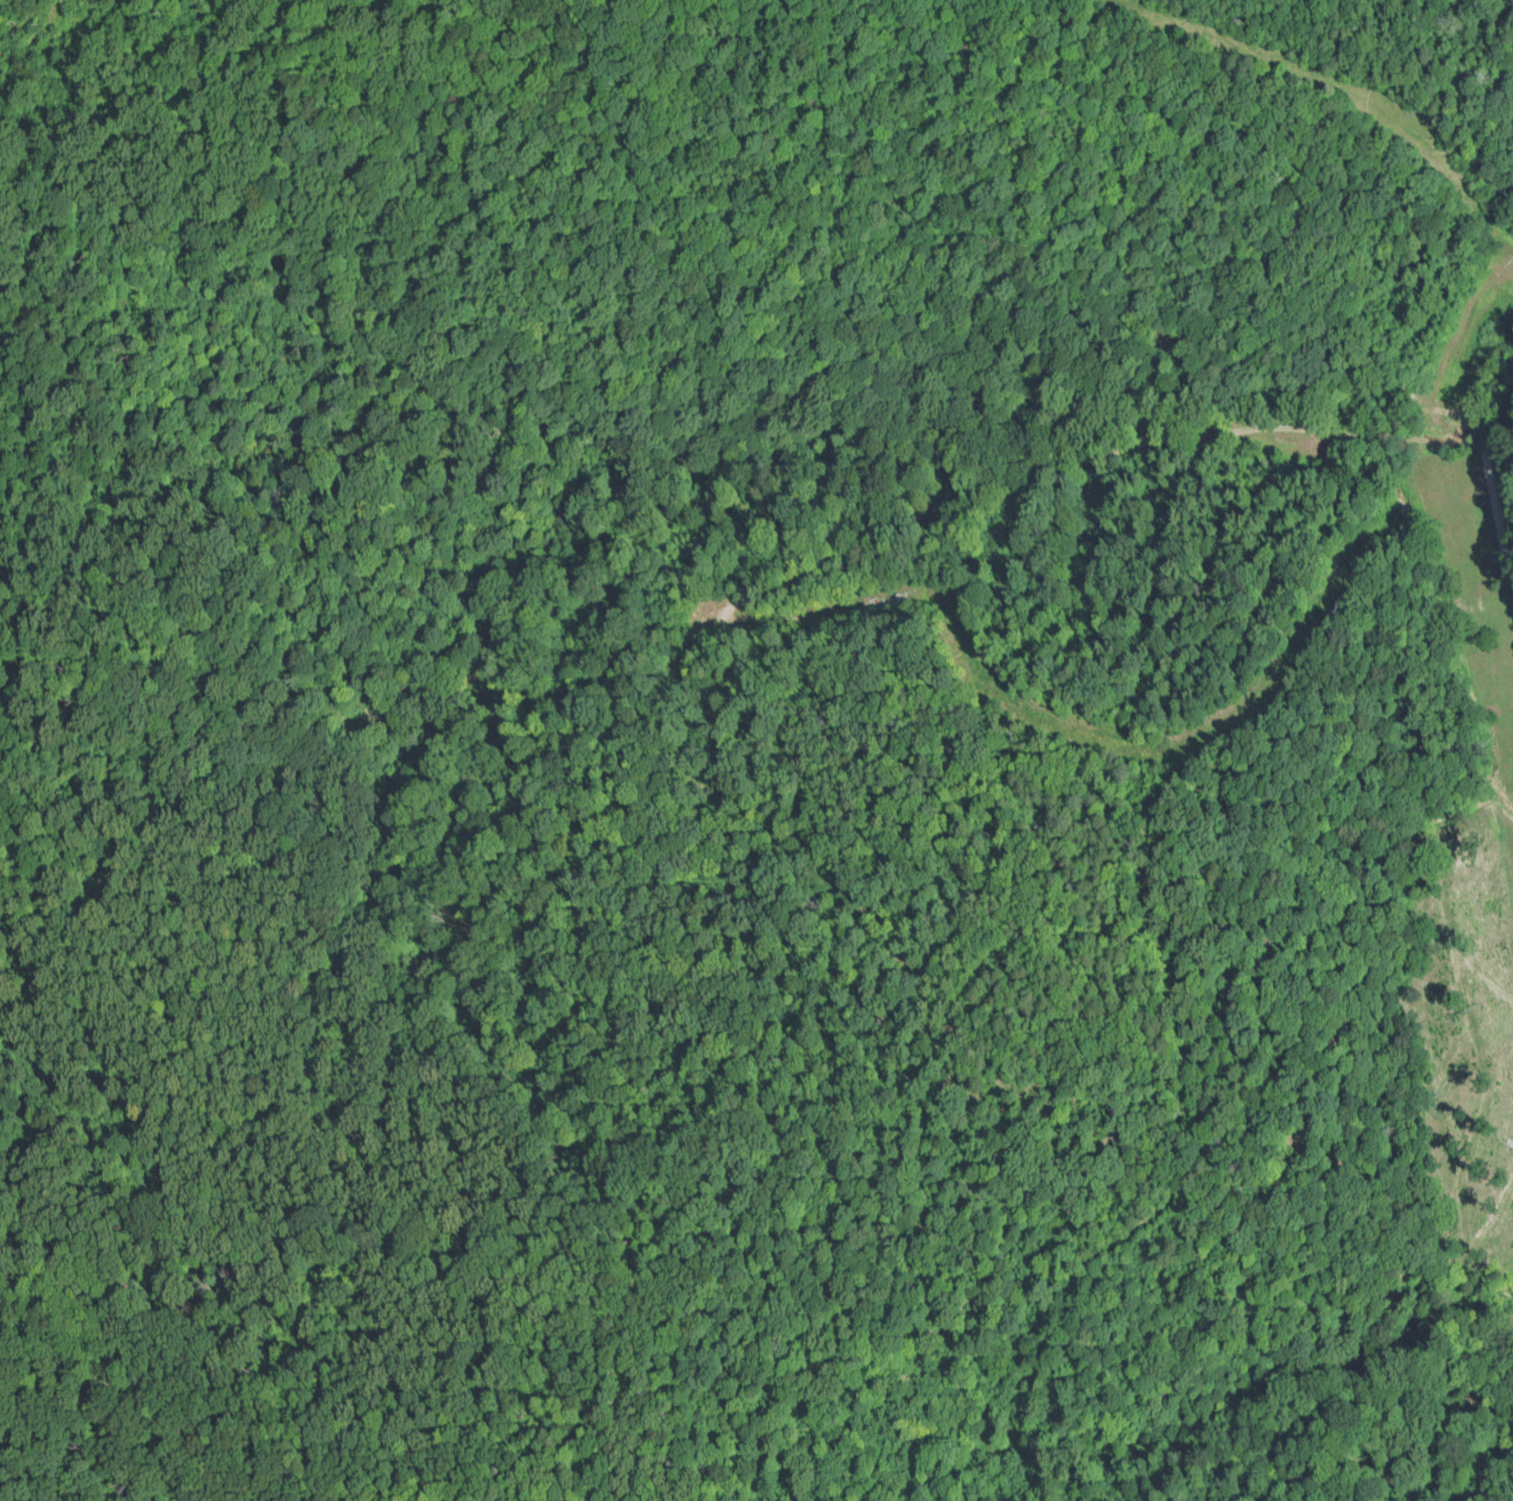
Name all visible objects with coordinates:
road: (1495, 515)

